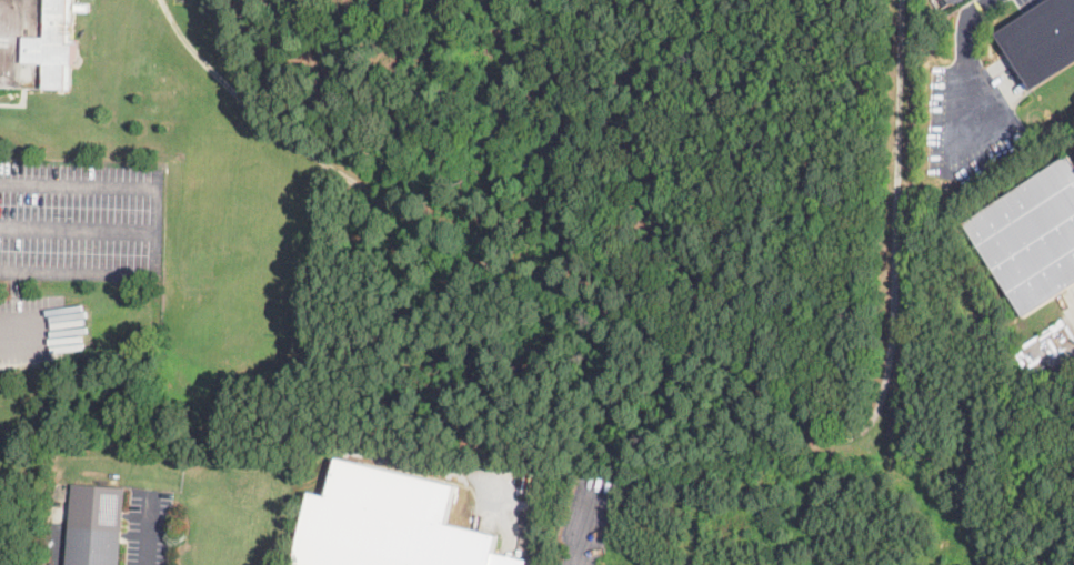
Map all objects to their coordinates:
road: (984, 2)
parking lot: (1023, 2)
building: (79, 7)
building: (1041, 40)
building: (36, 43)
parking lot: (81, 219)
road: (78, 229)
road: (157, 229)
building: (1031, 236)
road: (19, 333)
building: (389, 523)
building: (96, 525)
road: (149, 527)
road: (58, 534)

